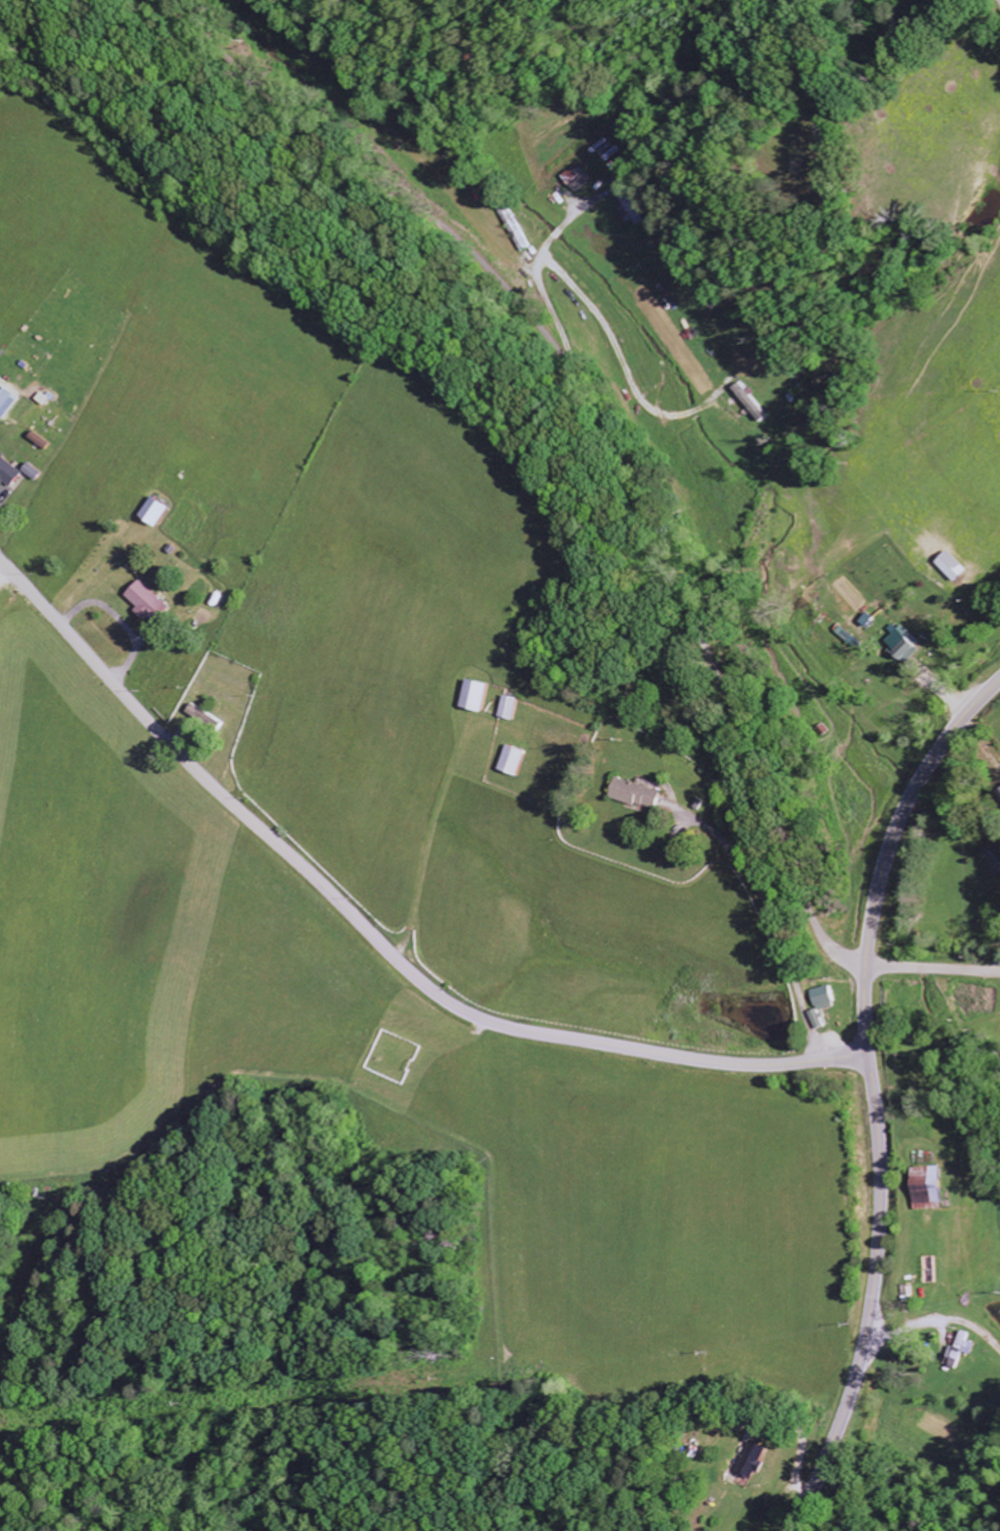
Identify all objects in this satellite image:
road: (884, 64)
building: (633, 210)
building: (754, 403)
road: (606, 423)
building: (35, 471)
building: (9, 472)
building: (158, 511)
building: (957, 567)
building: (149, 604)
road: (6, 610)
building: (906, 644)
building: (480, 696)
building: (513, 708)
building: (202, 716)
building: (516, 761)
building: (642, 795)
building: (994, 858)
road: (373, 936)
road: (933, 966)
building: (826, 998)
building: (818, 1020)
road: (872, 1094)
building: (935, 1187)
road: (936, 1315)
building: (968, 1346)
building: (753, 1461)

